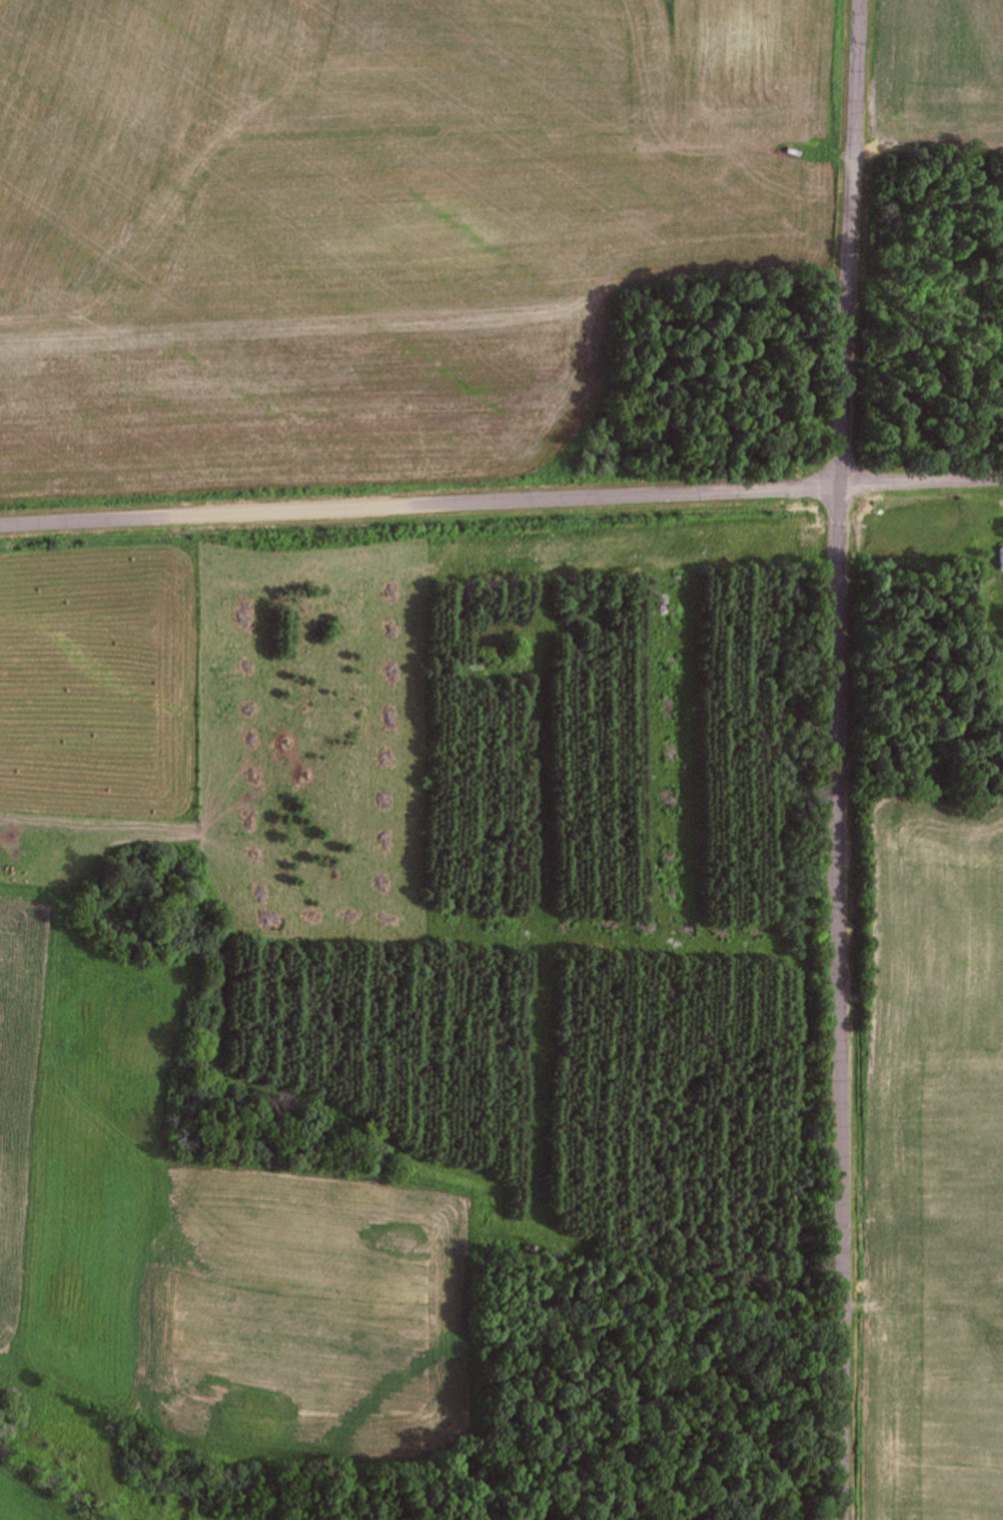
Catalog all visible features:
road: (501, 495)
building: (999, 558)
road: (840, 759)

